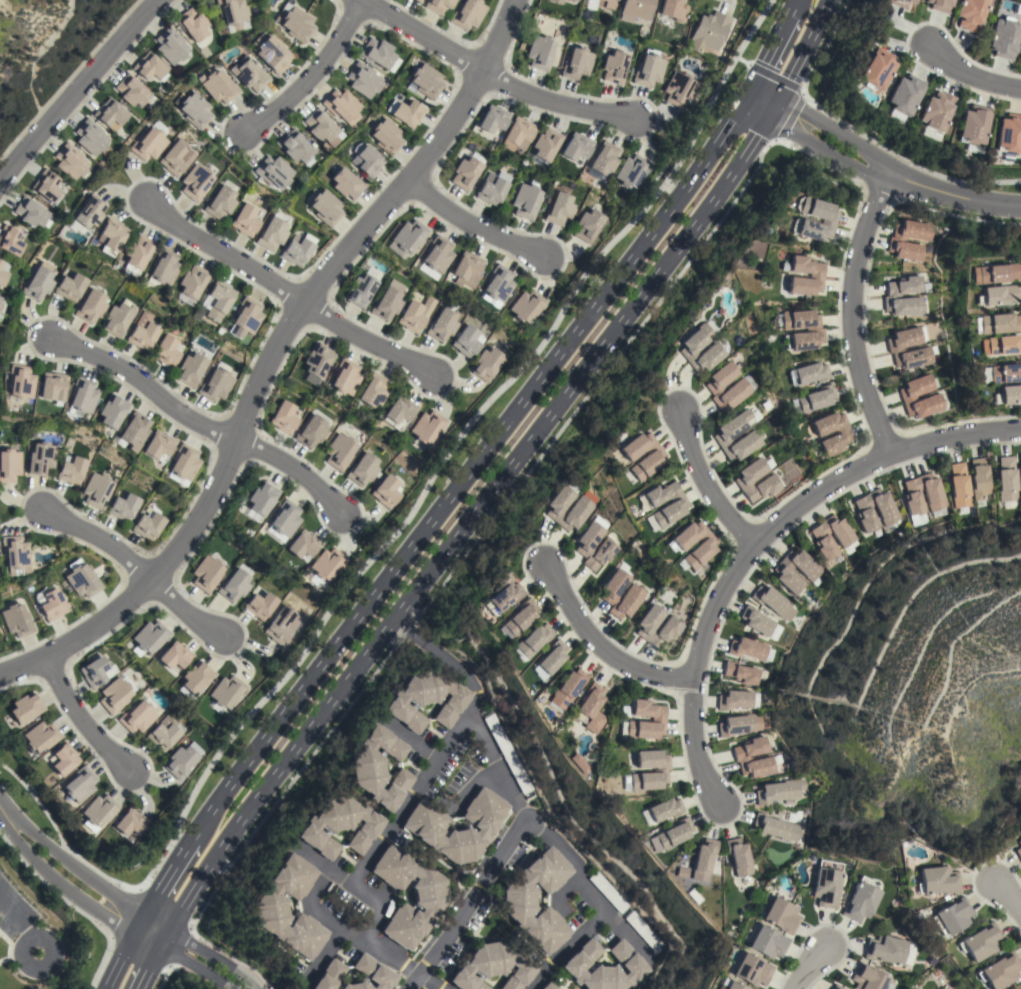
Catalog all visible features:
building: (574, 0)
building: (417, 1)
building: (557, 1)
building: (606, 3)
road: (794, 3)
building: (900, 3)
building: (438, 5)
building: (939, 5)
building: (635, 10)
building: (674, 10)
building: (232, 12)
building: (467, 14)
building: (970, 14)
building: (192, 24)
building: (296, 24)
building: (709, 32)
building: (1003, 38)
building: (170, 45)
road: (770, 51)
building: (377, 52)
building: (540, 53)
road: (801, 54)
building: (273, 55)
building: (576, 64)
building: (149, 67)
building: (614, 67)
building: (876, 70)
building: (648, 71)
building: (249, 73)
road: (312, 74)
road: (972, 74)
road: (489, 77)
building: (363, 80)
building: (426, 81)
building: (217, 86)
road: (76, 88)
building: (678, 89)
building: (132, 91)
traffic signals: (748, 96)
building: (903, 96)
road: (760, 102)
building: (341, 106)
traffic signals: (772, 108)
building: (194, 110)
building: (407, 113)
building: (110, 114)
building: (934, 114)
building: (492, 119)
building: (972, 125)
building: (321, 127)
building: (519, 133)
building: (1009, 134)
building: (386, 137)
building: (91, 138)
building: (148, 144)
building: (546, 144)
building: (295, 147)
building: (576, 147)
building: (604, 158)
building: (175, 159)
building: (70, 161)
building: (368, 161)
building: (632, 171)
building: (273, 172)
building: (465, 173)
road: (888, 178)
building: (195, 182)
building: (346, 184)
building: (46, 185)
building: (491, 190)
building: (526, 200)
building: (219, 203)
building: (325, 207)
building: (558, 209)
building: (89, 211)
building: (32, 213)
building: (828, 219)
building: (245, 220)
building: (588, 226)
road: (470, 227)
building: (273, 232)
building: (111, 235)
building: (409, 236)
building: (10, 240)
building: (895, 241)
building: (298, 249)
building: (137, 253)
building: (435, 257)
building: (1, 264)
building: (163, 267)
building: (466, 269)
building: (993, 273)
building: (815, 275)
building: (2, 277)
building: (38, 282)
building: (192, 282)
building: (497, 283)
building: (70, 287)
road: (285, 290)
building: (361, 290)
building: (996, 295)
building: (890, 296)
building: (0, 298)
building: (216, 300)
building: (388, 301)
building: (2, 305)
building: (90, 306)
building: (526, 306)
building: (415, 314)
building: (246, 315)
road: (852, 315)
building: (117, 319)
building: (996, 323)
building: (442, 325)
building: (816, 331)
building: (142, 332)
building: (466, 341)
building: (691, 345)
building: (1000, 345)
building: (894, 348)
building: (165, 351)
road: (268, 355)
building: (317, 360)
building: (487, 364)
building: (190, 369)
building: (807, 373)
building: (1004, 373)
building: (344, 378)
building: (20, 381)
building: (215, 385)
building: (713, 385)
building: (52, 387)
building: (372, 390)
building: (1007, 395)
building: (82, 396)
building: (932, 398)
building: (813, 399)
building: (112, 412)
building: (398, 412)
building: (283, 417)
road: (202, 422)
building: (426, 427)
building: (311, 431)
building: (132, 432)
building: (725, 434)
building: (841, 436)
building: (157, 445)
building: (339, 452)
building: (652, 456)
building: (42, 458)
building: (182, 464)
building: (9, 465)
road: (471, 468)
building: (362, 469)
building: (72, 470)
building: (1019, 475)
road: (703, 478)
building: (979, 479)
building: (1006, 479)
building: (742, 481)
building: (958, 485)
building: (96, 490)
building: (385, 492)
building: (260, 500)
building: (935, 502)
building: (123, 507)
building: (582, 507)
building: (673, 507)
building: (887, 513)
building: (284, 518)
road: (402, 524)
building: (147, 526)
road: (758, 536)
building: (843, 536)
road: (448, 543)
building: (301, 545)
building: (607, 547)
building: (703, 548)
building: (14, 553)
building: (326, 564)
road: (135, 567)
building: (810, 573)
building: (207, 574)
building: (81, 580)
building: (234, 585)
building: (634, 594)
building: (502, 598)
building: (773, 602)
building: (51, 605)
building: (260, 605)
building: (520, 617)
building: (17, 620)
building: (756, 621)
building: (670, 626)
building: (280, 627)
building: (149, 637)
building: (533, 640)
road: (596, 643)
building: (747, 649)
building: (173, 656)
building: (552, 657)
building: (94, 672)
building: (741, 673)
building: (194, 679)
building: (568, 688)
building: (226, 692)
building: (114, 695)
building: (425, 700)
building: (734, 700)
building: (25, 708)
building: (591, 708)
road: (80, 717)
building: (136, 717)
building: (657, 718)
building: (739, 724)
building: (164, 731)
building: (40, 737)
road: (409, 737)
road: (448, 742)
building: (507, 753)
building: (741, 757)
building: (62, 759)
building: (180, 762)
building: (579, 763)
building: (378, 768)
building: (659, 771)
building: (78, 784)
road: (470, 784)
building: (780, 791)
building: (663, 810)
building: (97, 812)
road: (528, 820)
building: (129, 822)
building: (422, 825)
building: (338, 826)
building: (775, 828)
building: (673, 834)
building: (1020, 843)
building: (1019, 852)
building: (738, 857)
building: (703, 859)
road: (69, 863)
road: (167, 874)
road: (338, 877)
building: (938, 880)
road: (57, 882)
building: (826, 884)
road: (317, 886)
building: (608, 892)
road: (1008, 894)
building: (429, 898)
building: (517, 900)
building: (861, 901)
road: (468, 904)
building: (266, 907)
building: (781, 916)
building: (951, 917)
road: (157, 919)
road: (139, 922)
road: (373, 923)
road: (21, 926)
building: (646, 932)
road: (627, 934)
road: (147, 940)
building: (767, 942)
building: (980, 942)
road: (374, 945)
road: (567, 948)
building: (884, 949)
road: (216, 956)
road: (103, 958)
road: (323, 958)
road: (119, 961)
building: (604, 966)
road: (195, 967)
building: (492, 967)
road: (814, 968)
building: (752, 970)
building: (999, 971)
building: (370, 974)
building: (328, 975)
building: (869, 978)
building: (548, 986)
building: (734, 986)
building: (836, 987)
building: (719, 988)

